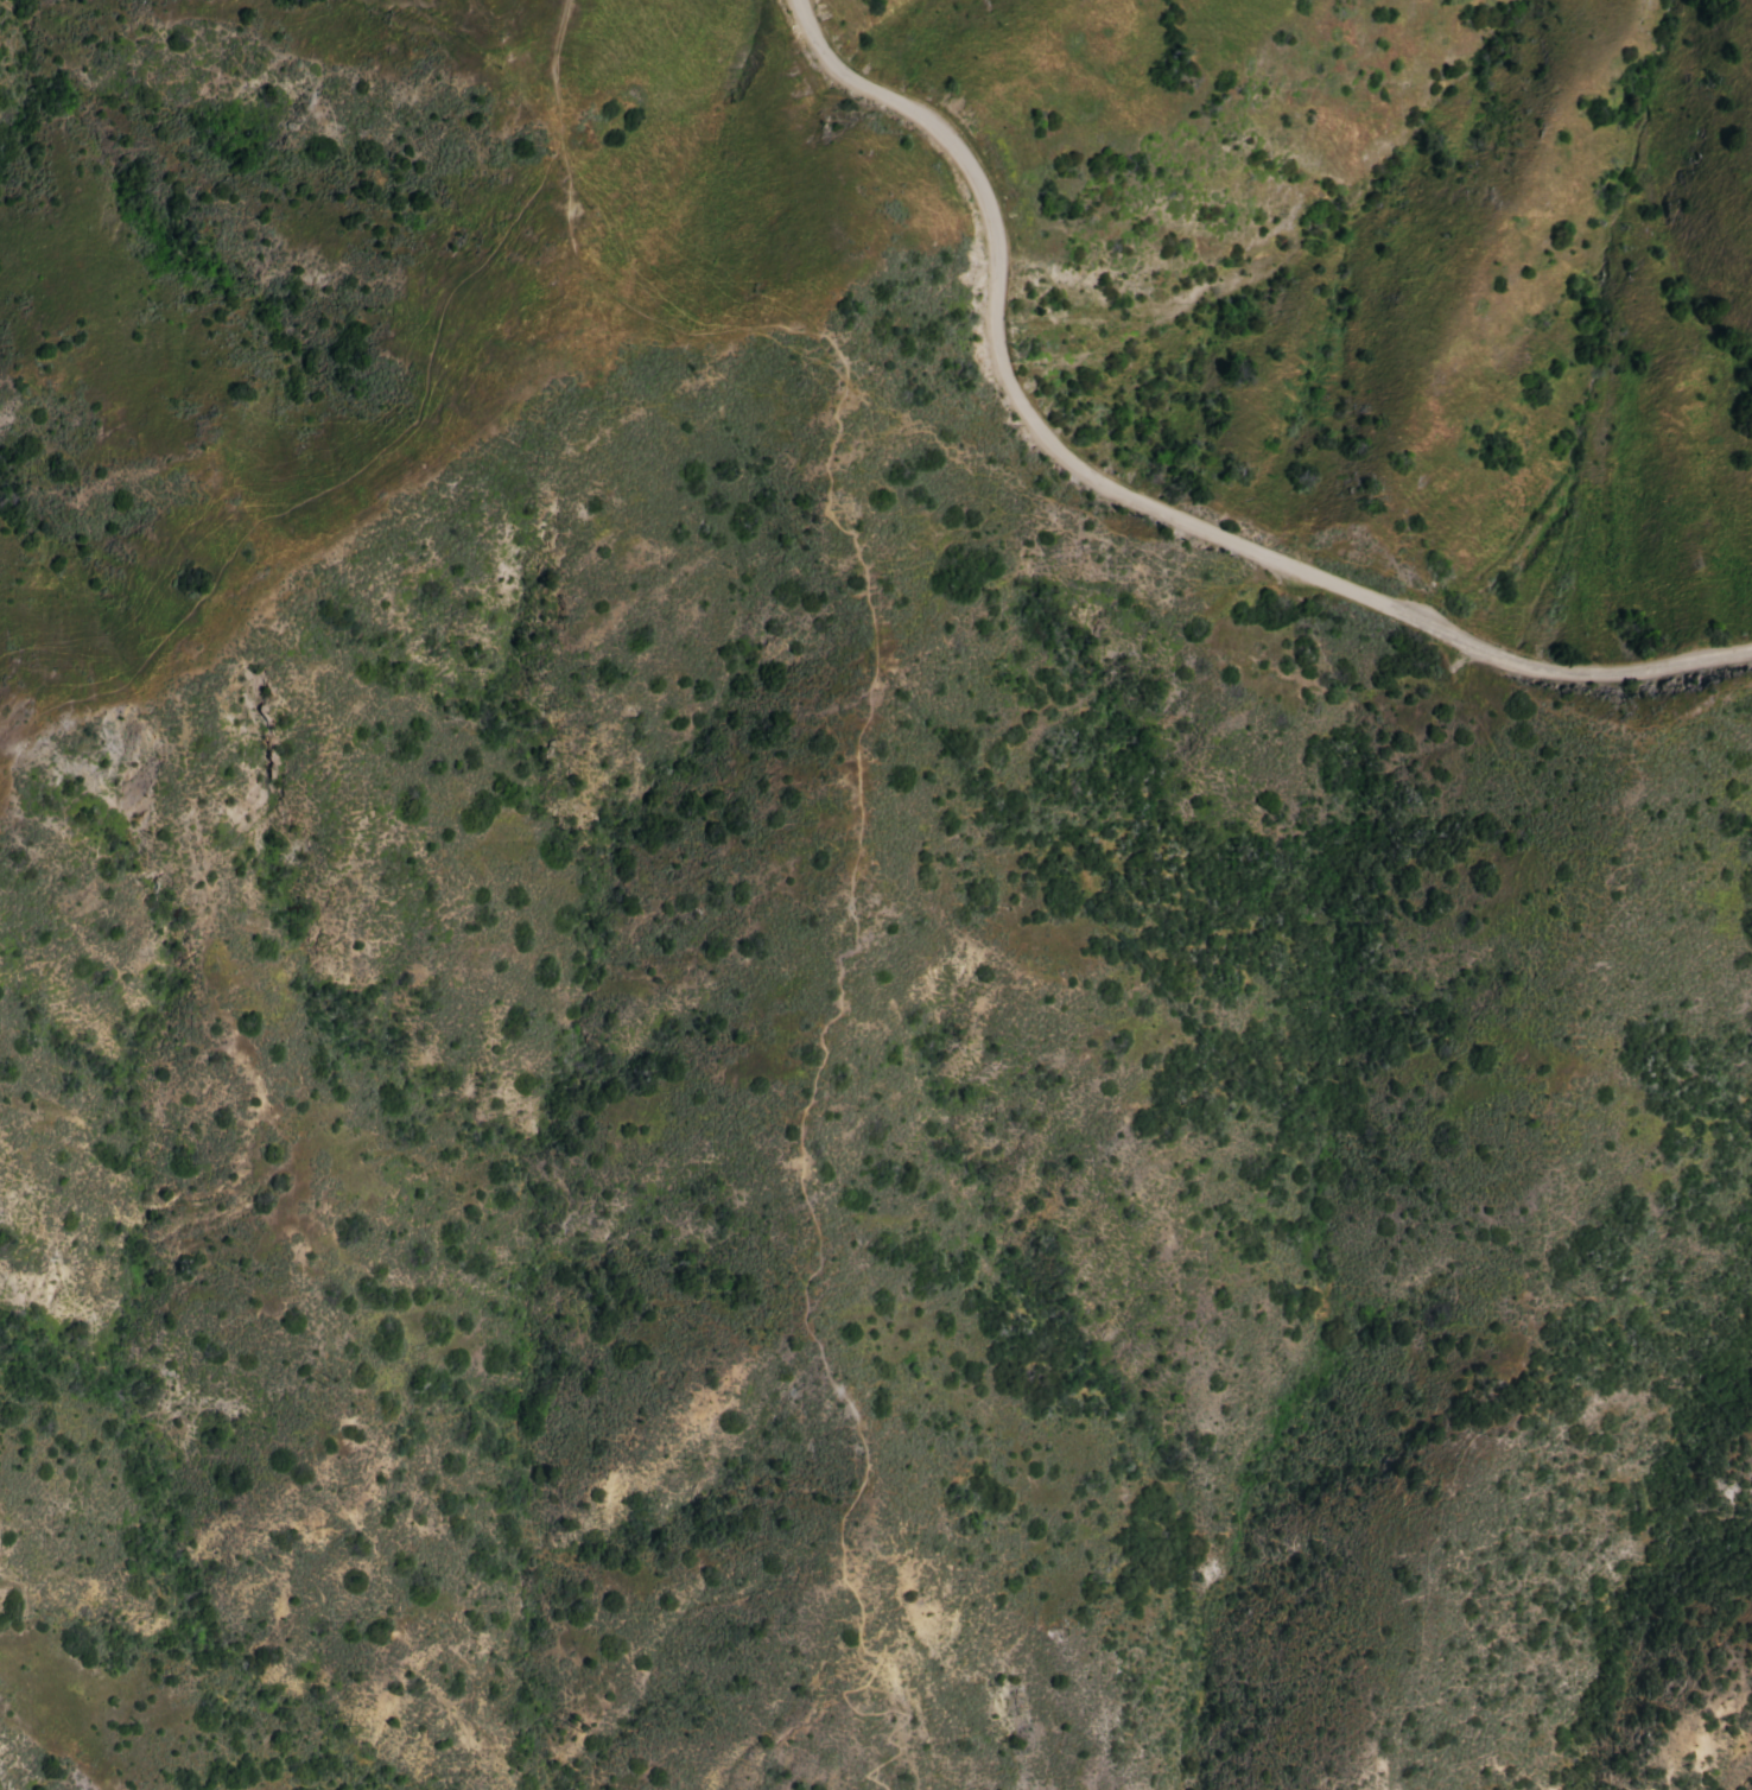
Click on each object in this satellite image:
road: (1137, 500)
road: (855, 811)

